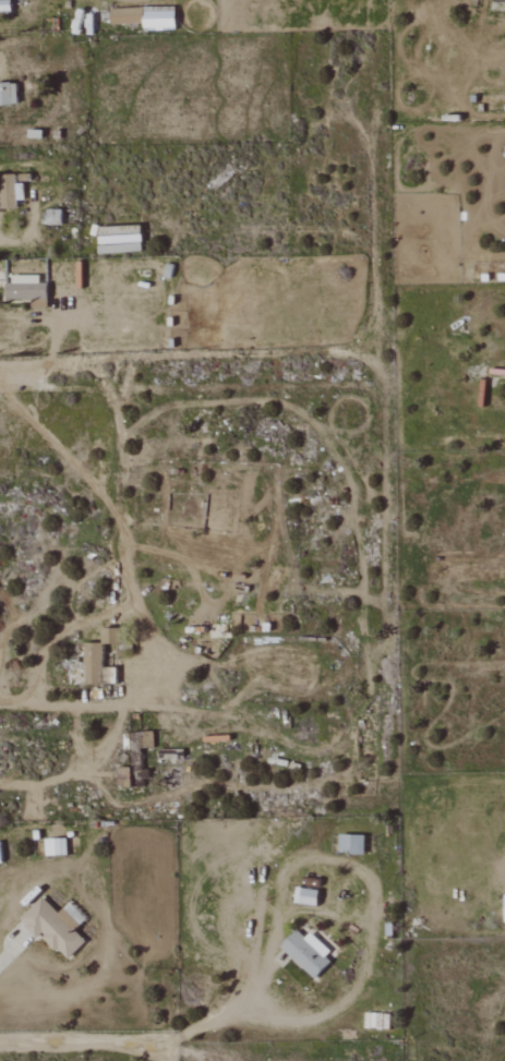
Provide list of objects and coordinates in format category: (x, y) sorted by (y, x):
building: (127, 15)
building: (159, 20)
building: (9, 94)
road: (371, 188)
building: (8, 191)
building: (28, 292)
road: (37, 318)
road: (171, 358)
building: (112, 635)
road: (164, 644)
building: (108, 651)
building: (94, 663)
road: (14, 707)
road: (79, 771)
building: (131, 773)
building: (352, 844)
building: (57, 847)
building: (306, 896)
building: (56, 926)
road: (11, 952)
building: (308, 954)
road: (223, 1013)
road: (84, 1039)
road: (183, 1051)

